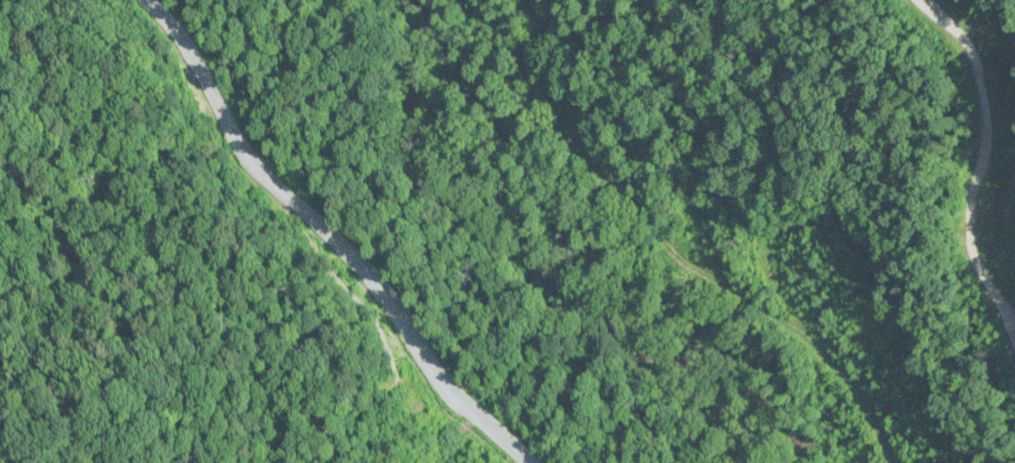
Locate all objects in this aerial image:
road: (668, 217)
road: (342, 226)

